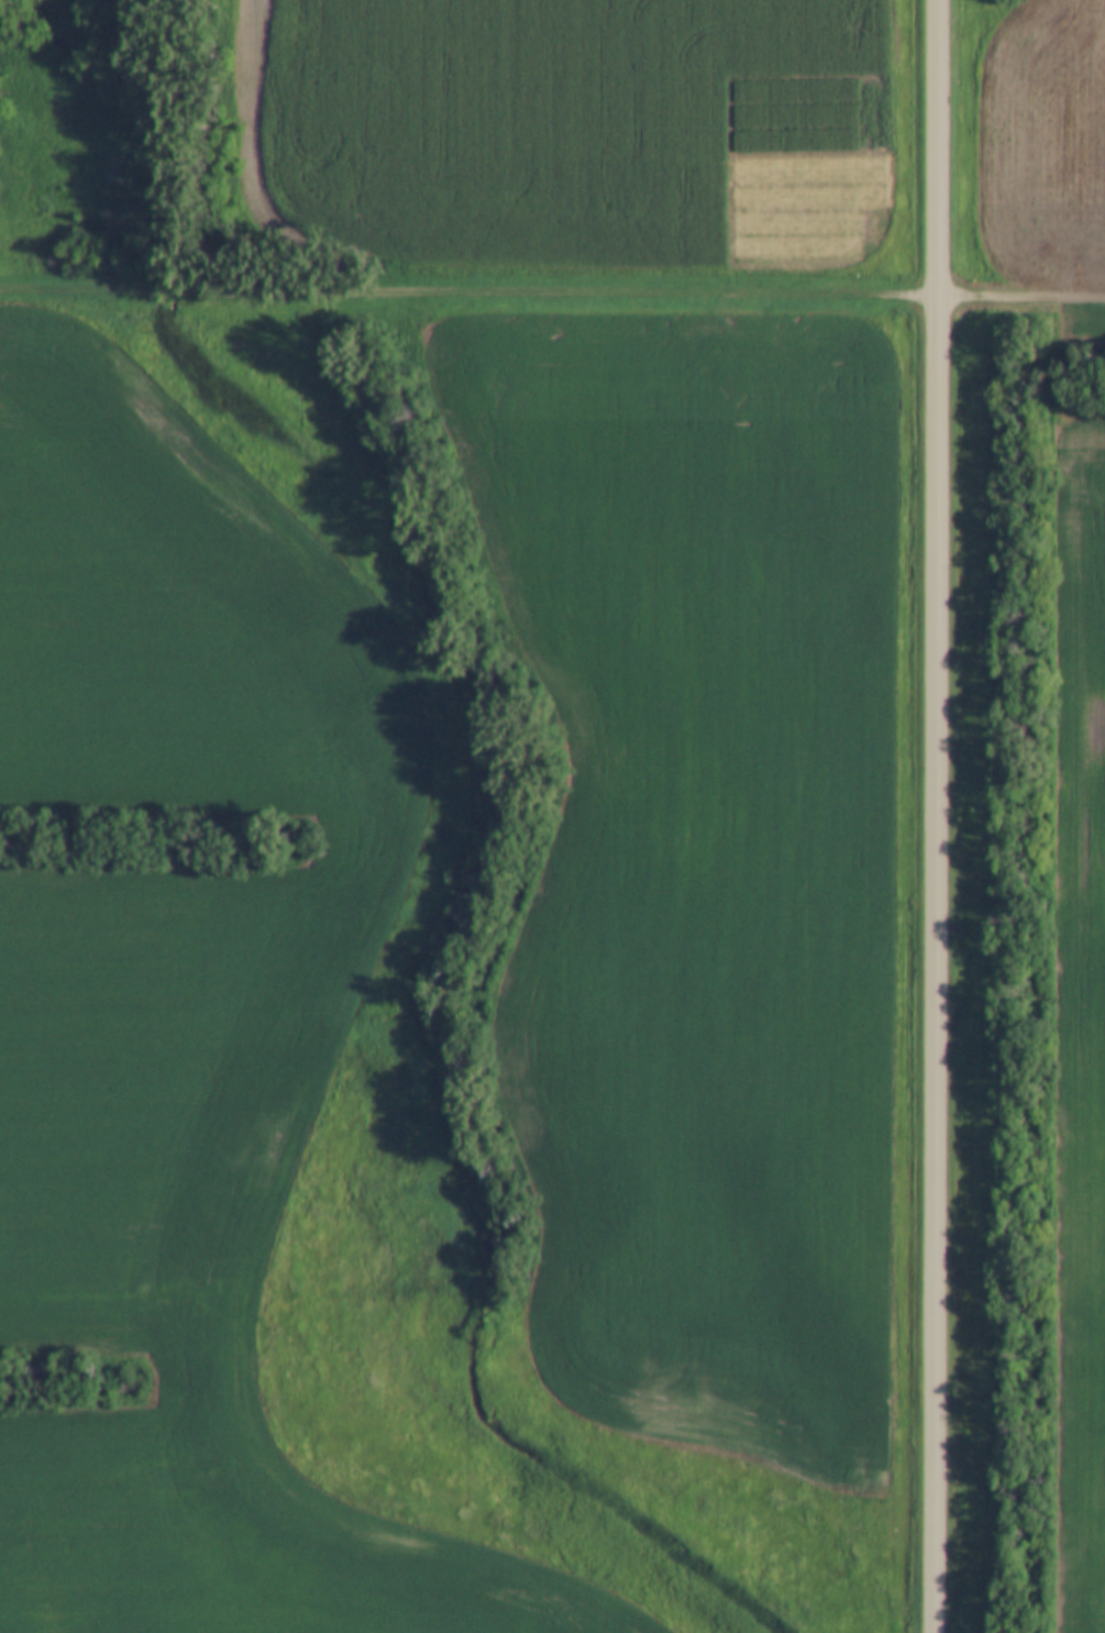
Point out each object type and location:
road: (552, 294)
road: (938, 816)

